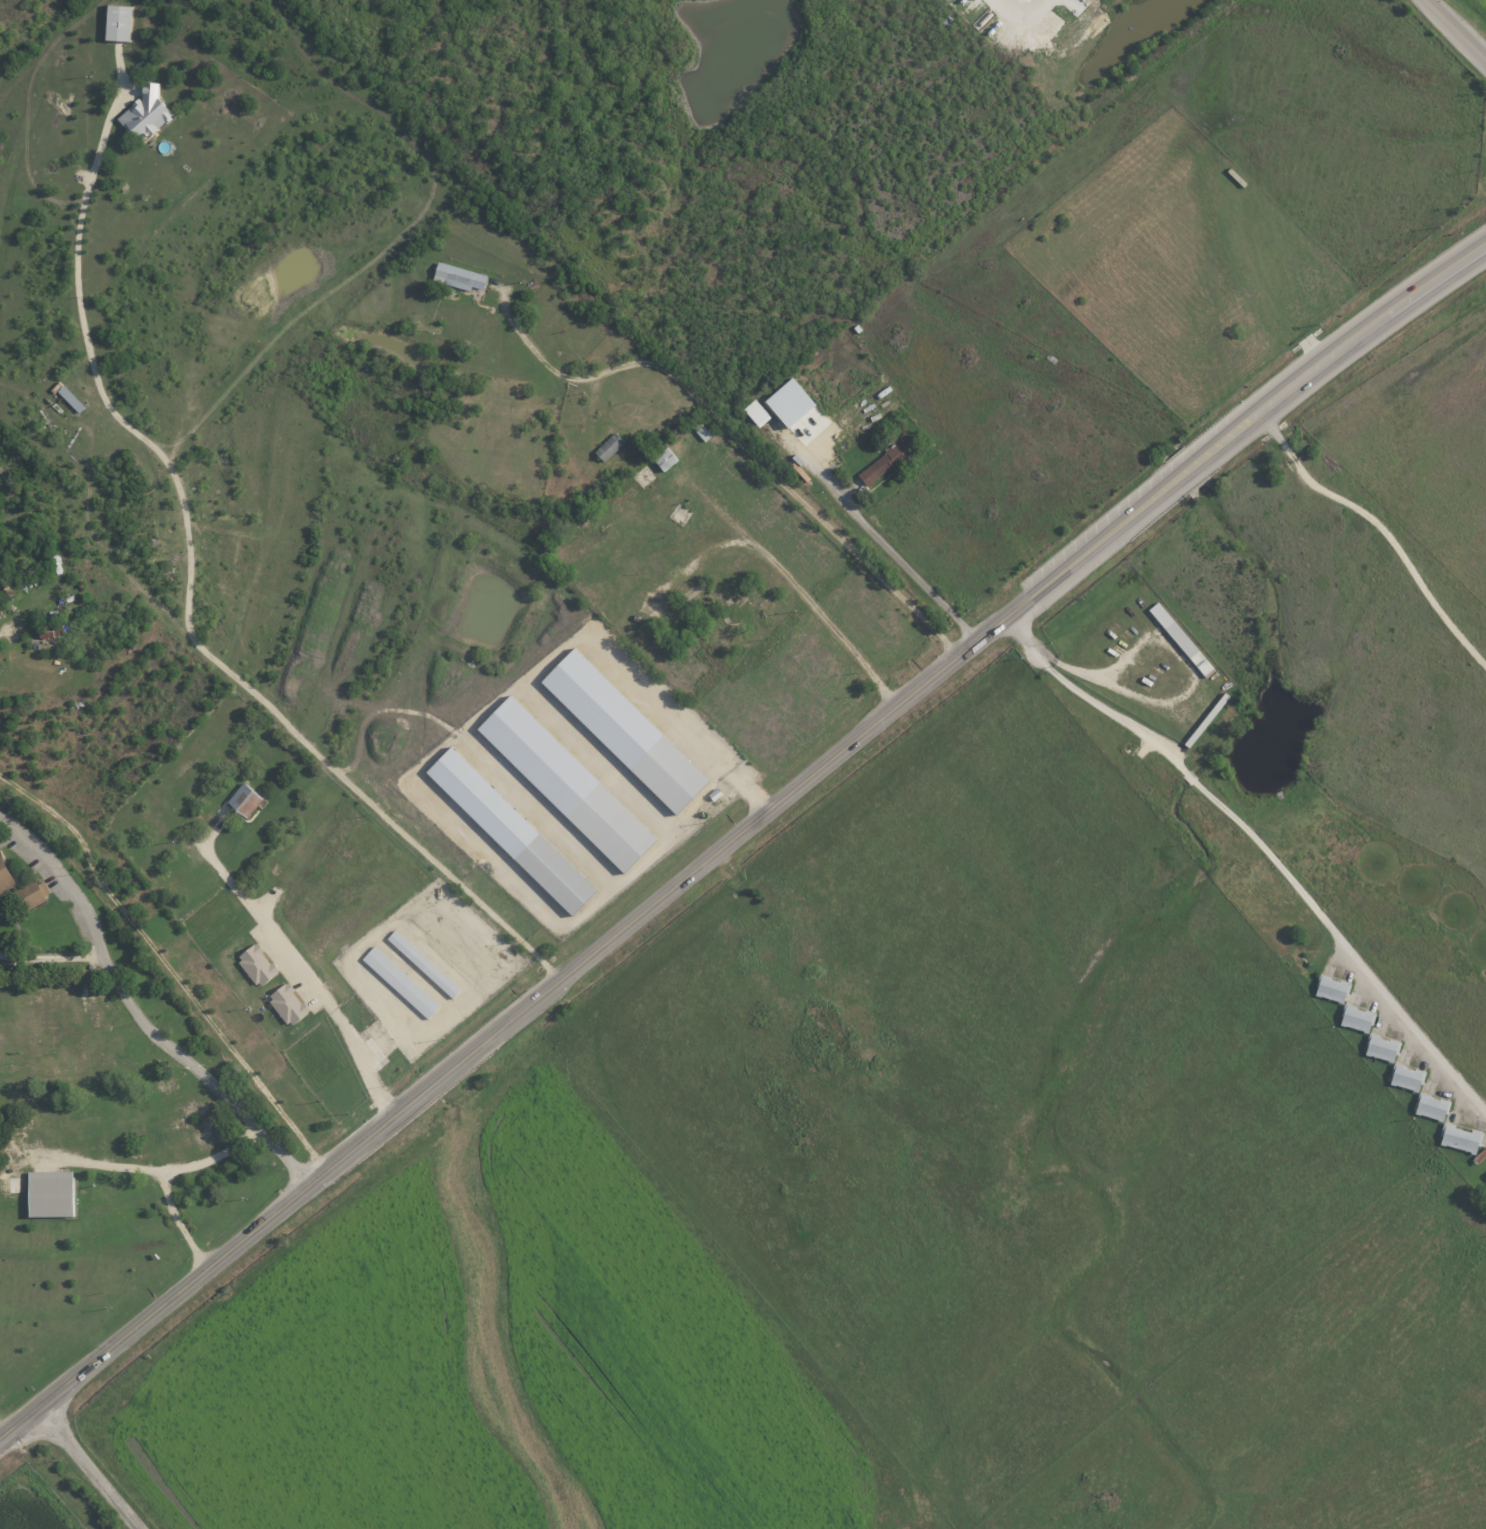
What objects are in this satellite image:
building: (122, 22)
road: (1459, 26)
building: (150, 113)
building: (461, 277)
building: (74, 397)
building: (794, 401)
building: (759, 413)
building: (809, 426)
building: (703, 431)
building: (611, 446)
building: (668, 459)
building: (891, 459)
road: (1383, 529)
road: (923, 579)
building: (7, 594)
road: (187, 597)
building: (55, 629)
building: (1183, 639)
building: (628, 730)
building: (570, 783)
building: (249, 798)
road: (789, 798)
building: (515, 830)
road: (1259, 848)
building: (8, 876)
building: (34, 893)
building: (426, 963)
building: (261, 964)
road: (299, 964)
building: (403, 981)
building: (1334, 988)
building: (291, 1004)
building: (1359, 1017)
road: (137, 1019)
building: (1384, 1047)
building: (1408, 1077)
building: (1433, 1106)
building: (1462, 1138)
road: (893, 1155)
road: (106, 1165)
road: (166, 1178)
building: (55, 1193)
road: (51, 1397)
road: (89, 1468)
road: (56, 1486)
airport: (32, 1504)

